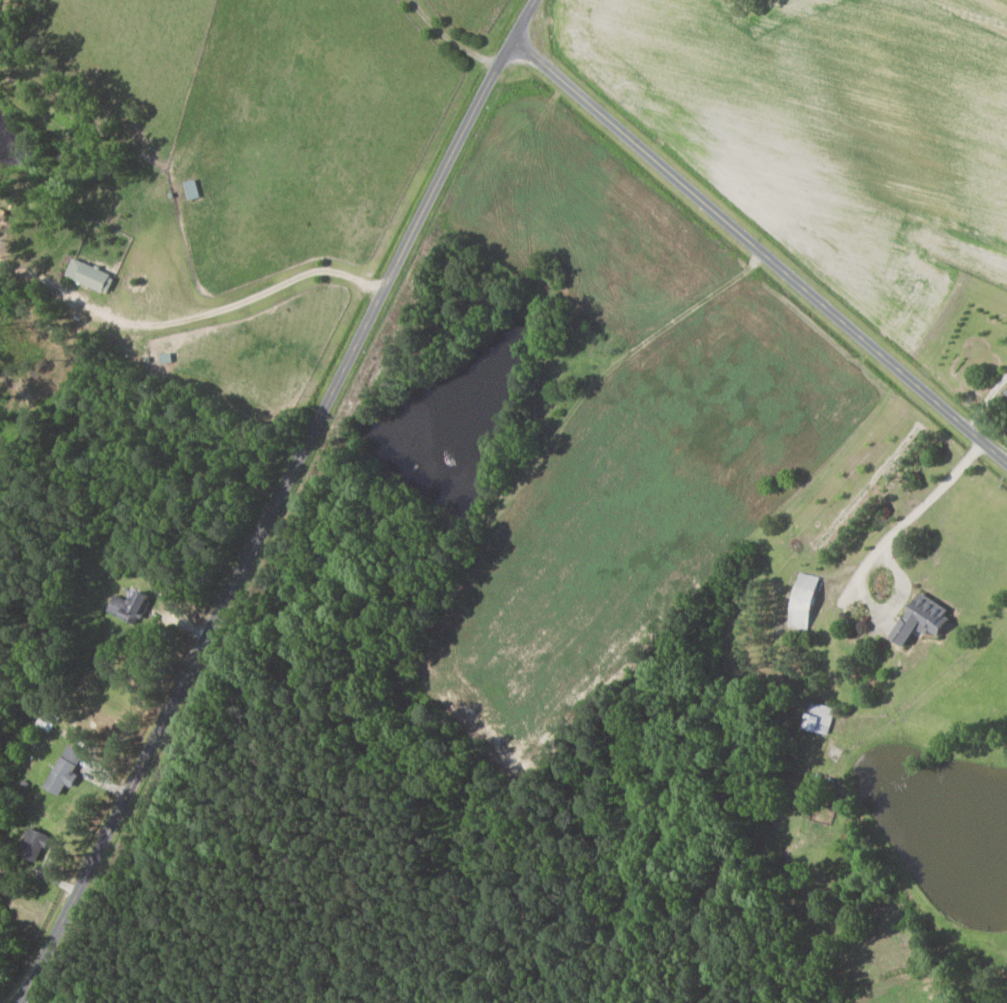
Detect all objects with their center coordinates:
building: (193, 188)
road: (752, 261)
building: (91, 275)
road: (275, 500)
building: (805, 601)
building: (131, 606)
building: (924, 618)
building: (821, 717)
building: (66, 770)
building: (35, 844)

